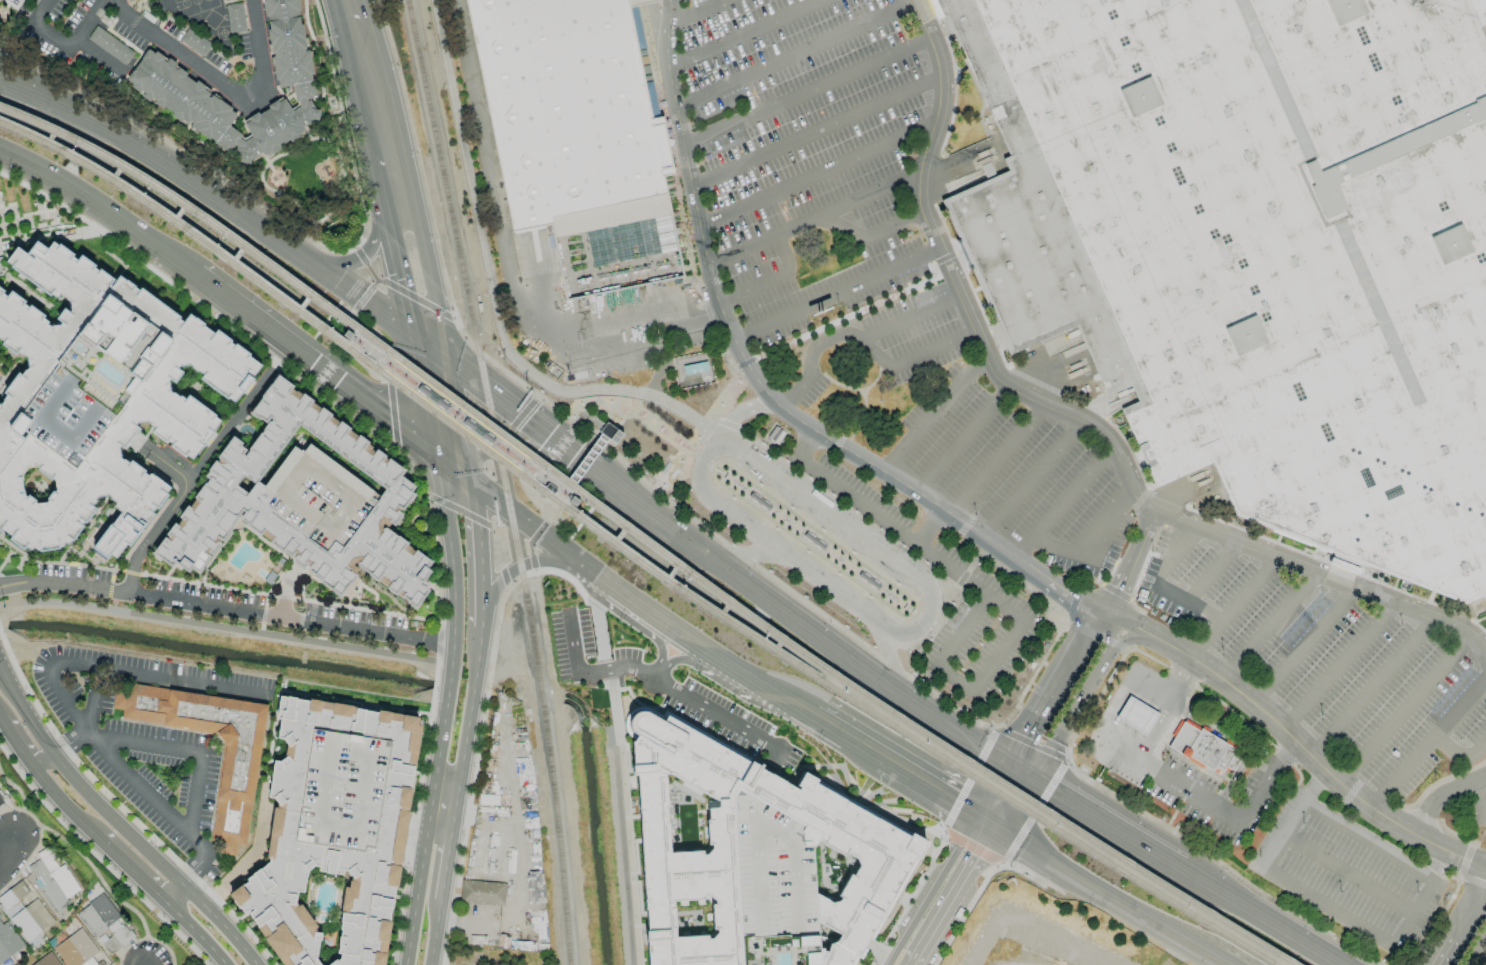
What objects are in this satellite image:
building: (225, 0)
road: (44, 2)
road: (43, 11)
road: (346, 14)
road: (698, 14)
building: (235, 17)
road: (86, 21)
road: (745, 35)
building: (194, 42)
road: (77, 45)
building: (110, 45)
road: (793, 58)
building: (162, 83)
road: (223, 84)
road: (368, 87)
road: (21, 94)
road: (805, 95)
road: (814, 134)
building: (572, 137)
road: (485, 168)
building: (986, 170)
road: (687, 173)
road: (816, 176)
road: (386, 180)
road: (103, 207)
road: (810, 221)
road: (248, 228)
road: (420, 230)
road: (60, 232)
road: (868, 237)
building: (1257, 250)
road: (361, 255)
road: (944, 260)
road: (364, 261)
road: (399, 277)
road: (767, 283)
road: (492, 292)
road: (834, 296)
road: (362, 298)
road: (414, 298)
road: (620, 306)
road: (852, 316)
road: (907, 320)
road: (353, 331)
traffic signals: (412, 340)
road: (380, 341)
road: (443, 341)
road: (627, 345)
road: (861, 345)
road: (368, 348)
road: (283, 353)
railway: (391, 359)
traffic signals: (448, 362)
road: (744, 364)
road: (317, 367)
road: (272, 368)
road: (752, 378)
road: (732, 395)
road: (424, 399)
building: (96, 400)
road: (575, 404)
road: (505, 405)
road: (457, 407)
road: (576, 407)
road: (744, 412)
road: (392, 414)
road: (615, 416)
road: (932, 416)
road: (648, 420)
road: (357, 422)
road: (1075, 422)
road: (726, 423)
road: (797, 424)
road: (229, 429)
road: (709, 429)
road: (584, 432)
road: (961, 442)
road: (514, 445)
road: (809, 446)
traffic signals: (563, 449)
road: (747, 452)
traffic signals: (466, 453)
road: (744, 454)
road: (451, 455)
road: (517, 457)
traffic signals: (437, 458)
road: (700, 459)
road: (578, 460)
road: (162, 462)
road: (581, 462)
road: (995, 462)
road: (681, 468)
road: (469, 469)
road: (455, 471)
road: (699, 476)
railway: (501, 480)
road: (1031, 482)
traffic signals: (473, 485)
road: (900, 485)
road: (800, 495)
road: (632, 500)
road: (865, 504)
road: (1061, 506)
road: (505, 509)
road: (934, 521)
road: (487, 524)
road: (745, 526)
road: (847, 530)
road: (151, 535)
railway: (643, 539)
road: (686, 540)
road: (533, 541)
road: (899, 545)
road: (1090, 546)
road: (557, 548)
road: (775, 549)
road: (736, 553)
railway: (628, 554)
road: (743, 554)
road: (480, 555)
road: (1171, 557)
road: (791, 560)
parking lot: (947, 563)
road: (1130, 565)
road: (111, 569)
road: (967, 570)
road: (513, 571)
road: (131, 572)
road: (1211, 575)
road: (812, 576)
road: (1042, 580)
road: (515, 581)
road: (1025, 585)
road: (613, 587)
road: (108, 590)
road: (930, 596)
road: (1187, 604)
road: (851, 606)
road: (227, 609)
road: (1231, 610)
road: (816, 611)
road: (927, 624)
road: (804, 625)
road: (1133, 626)
road: (226, 628)
road: (1268, 630)
road: (1109, 632)
road: (454, 633)
road: (683, 634)
road: (1131, 639)
road: (1303, 648)
road: (1173, 649)
road: (996, 658)
road: (891, 661)
road: (661, 665)
road: (895, 669)
road: (1338, 669)
road: (594, 671)
road: (746, 675)
road: (1033, 675)
road: (176, 678)
road: (1178, 678)
road: (48, 679)
road: (1051, 684)
road: (1371, 691)
road: (93, 698)
road: (1114, 704)
road: (1252, 705)
road: (793, 706)
road: (953, 707)
road: (1404, 713)
road: (1071, 715)
building: (1136, 715)
gas station: (1136, 715)
road: (717, 717)
road: (469, 719)
road: (3, 727)
road: (956, 730)
road: (845, 740)
road: (69, 742)
road: (1234, 742)
road: (150, 744)
road: (1428, 746)
building: (1203, 748)
road: (19, 752)
road: (1461, 759)
traffic signals: (1005, 762)
road: (42, 763)
building: (238, 770)
road: (1021, 772)
road: (1156, 773)
road: (1266, 780)
traffic signals: (1038, 782)
road: (511, 787)
road: (923, 791)
road: (986, 791)
road: (145, 792)
road: (196, 794)
building: (2, 798)
road: (1441, 798)
road: (1478, 802)
road: (68, 809)
road: (444, 811)
road: (1020, 811)
traffic signals: (968, 820)
road: (120, 824)
road: (1391, 824)
road: (1110, 825)
road: (985, 830)
building: (333, 833)
building: (678, 836)
traffic signals: (1002, 840)
road: (1367, 840)
road: (76, 849)
road: (8, 852)
road: (427, 856)
road: (200, 860)
road: (246, 862)
road: (446, 864)
road: (1044, 865)
road: (1347, 872)
road: (136, 873)
building: (751, 873)
road: (187, 876)
road: (935, 877)
building: (52, 879)
building: (482, 892)
road: (173, 893)
building: (823, 898)
road: (961, 901)
road: (1321, 907)
road: (171, 908)
road: (516, 911)
building: (24, 912)
road: (1265, 916)
road: (1460, 920)
building: (103, 922)
road: (1034, 926)
road: (1150, 927)
road: (415, 934)
building: (687, 937)
road: (203, 939)
building: (8, 941)
road: (434, 941)
building: (77, 949)
road: (894, 950)
road: (1477, 951)
building: (46, 960)
road: (919, 963)

